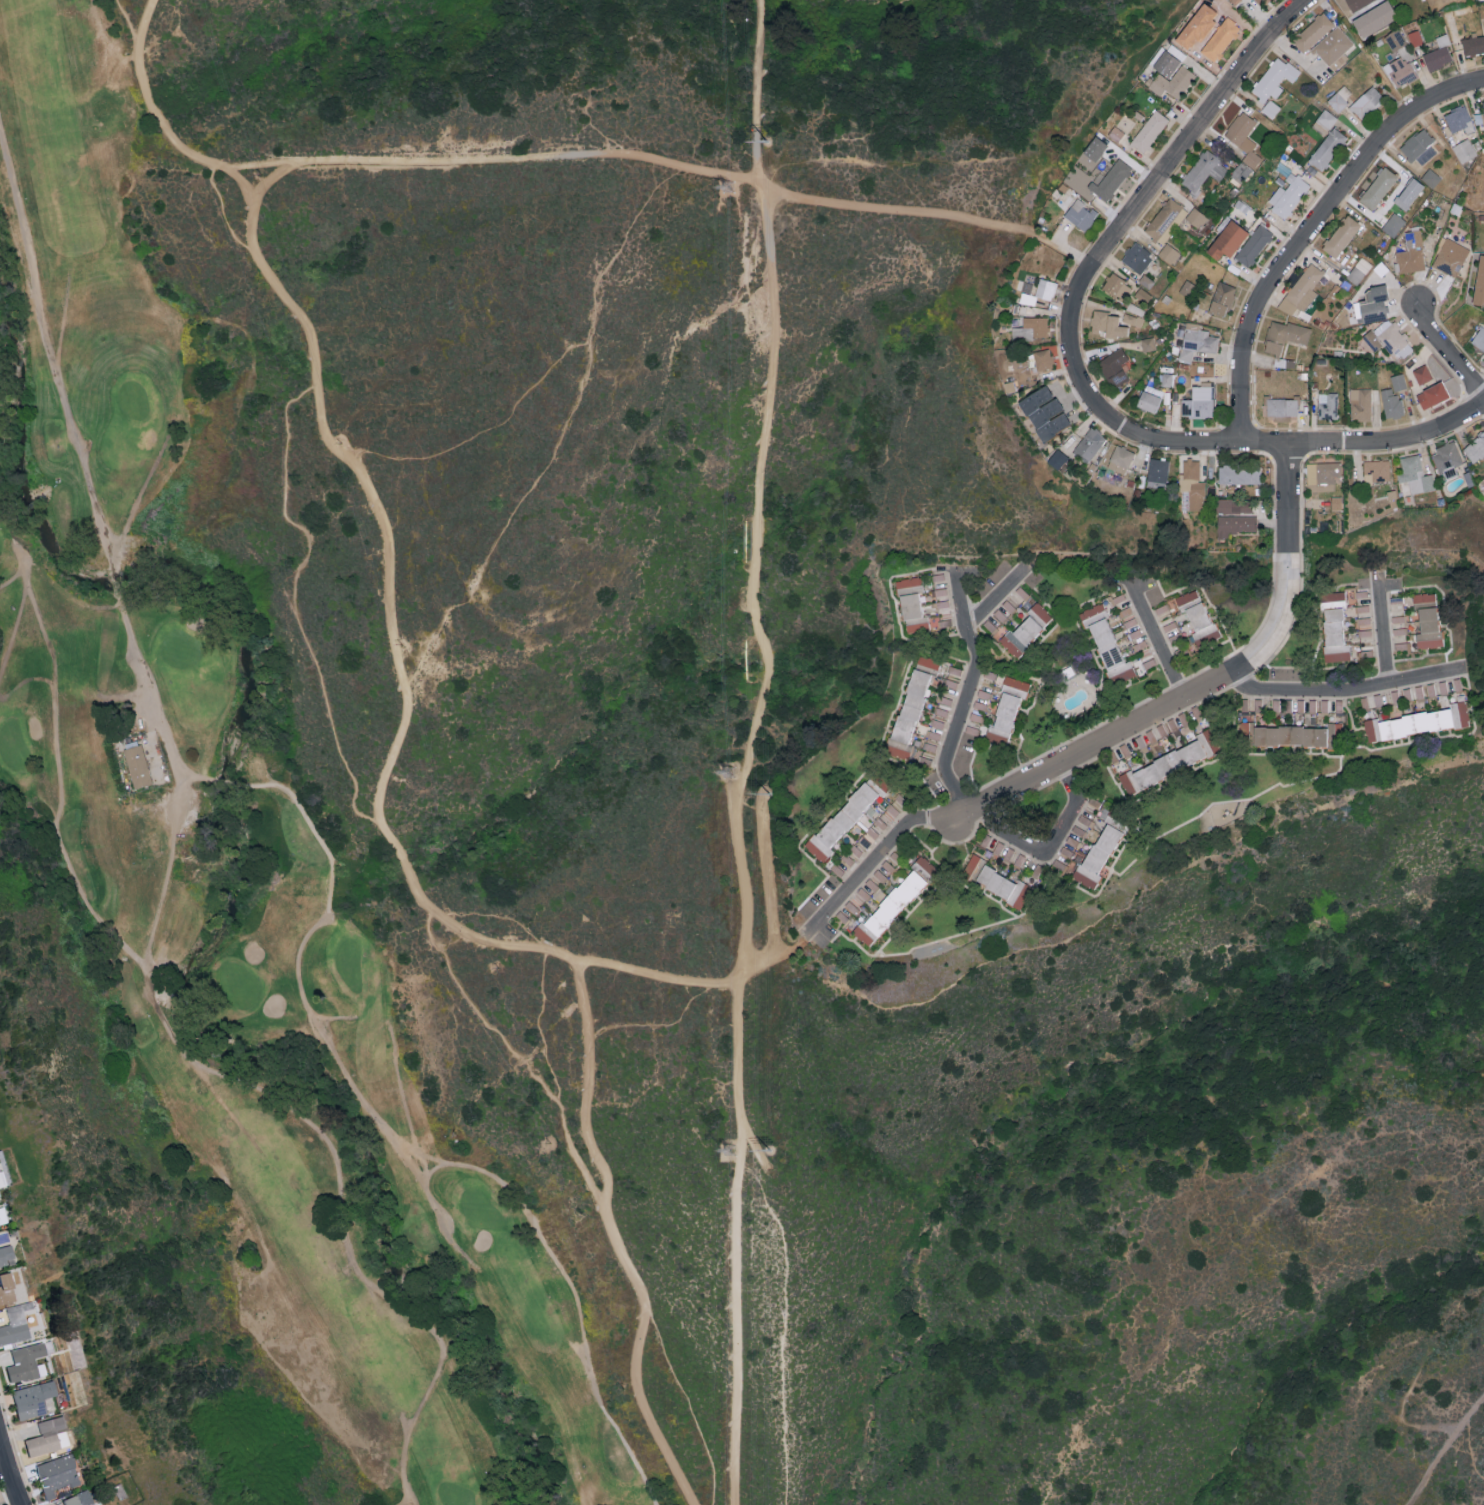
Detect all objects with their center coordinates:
building: (1230, 0)
building: (1264, 1)
building: (1357, 3)
building: (1374, 18)
road: (144, 23)
road: (122, 24)
building: (1197, 24)
building: (1312, 31)
building: (1415, 36)
building: (1220, 38)
building: (1395, 39)
building: (1443, 39)
building: (1473, 44)
building: (1332, 45)
building: (1176, 51)
building: (1437, 57)
road: (1368, 58)
building: (1166, 63)
building: (1400, 70)
building: (1273, 78)
building: (1171, 81)
building: (1340, 97)
building: (1366, 102)
building: (1270, 108)
building: (1480, 115)
building: (1458, 118)
building: (1324, 121)
building: (1149, 130)
building: (1243, 136)
road: (173, 137)
power tower: (767, 144)
building: (1418, 145)
building: (1327, 148)
building: (1464, 150)
road: (646, 157)
building: (1203, 170)
building: (1241, 171)
building: (1430, 177)
building: (1109, 179)
building: (1377, 187)
power tower: (731, 189)
building: (1408, 193)
building: (1287, 195)
building: (1080, 214)
building: (1196, 217)
building: (1162, 218)
building: (1393, 224)
road: (1313, 233)
building: (1340, 235)
building: (1227, 239)
building: (1253, 244)
road: (1106, 250)
park: (297, 251)
building: (1410, 252)
building: (1169, 253)
road: (1075, 255)
building: (1450, 256)
building: (1136, 257)
building: (1358, 270)
building: (1145, 280)
building: (1479, 282)
building: (1117, 285)
building: (1186, 287)
building: (1301, 289)
building: (1039, 291)
building: (1142, 294)
building: (1221, 298)
building: (1372, 304)
building: (1132, 319)
building: (1471, 319)
building: (1108, 323)
building: (1031, 328)
building: (1388, 337)
building: (1479, 337)
building: (1196, 340)
building: (1274, 341)
building: (1147, 343)
road: (1447, 349)
building: (1042, 358)
building: (1112, 361)
building: (1422, 374)
building: (1118, 377)
building: (1167, 379)
building: (1398, 381)
building: (1432, 394)
building: (1149, 398)
park: (134, 399)
building: (1198, 401)
building: (1360, 403)
building: (1391, 403)
building: (1327, 404)
building: (1281, 405)
building: (1044, 412)
road: (1366, 442)
building: (1089, 443)
building: (1475, 447)
building: (1058, 458)
building: (1447, 458)
building: (1120, 459)
building: (1157, 469)
building: (1376, 470)
building: (1238, 473)
building: (1323, 473)
building: (1415, 474)
building: (1192, 483)
building: (1233, 505)
building: (1236, 523)
park: (0, 544)
road: (1388, 586)
building: (1337, 597)
road: (389, 598)
road: (752, 598)
road: (998, 598)
building: (1423, 599)
road: (294, 601)
building: (911, 605)
building: (1362, 608)
building: (1162, 609)
building: (1000, 615)
building: (1197, 619)
building: (1362, 621)
building: (989, 626)
road: (1384, 627)
building: (1428, 627)
building: (1026, 629)
building: (1364, 632)
road: (937, 637)
building: (1338, 637)
building: (1106, 642)
road: (1160, 644)
building: (1402, 648)
park: (182, 649)
road: (946, 659)
building: (928, 661)
building: (954, 670)
building: (951, 683)
road: (1215, 683)
building: (1443, 687)
building: (1458, 689)
road: (1347, 690)
road: (969, 694)
building: (984, 694)
building: (943, 700)
road: (893, 711)
building: (940, 711)
building: (1005, 711)
building: (908, 713)
building: (976, 717)
road: (160, 719)
road: (1350, 719)
building: (1418, 722)
building: (1243, 732)
building: (1289, 735)
building: (1331, 736)
park: (14, 746)
building: (1169, 762)
building: (137, 766)
road: (1198, 769)
power tower: (730, 772)
power tower: (770, 794)
park: (635, 803)
building: (841, 821)
road: (1137, 825)
road: (1169, 831)
road: (942, 839)
building: (997, 848)
road: (1053, 848)
road: (887, 850)
building: (1066, 852)
building: (1097, 855)
building: (1019, 860)
park: (249, 861)
building: (972, 866)
building: (923, 867)
road: (168, 874)
building: (1002, 885)
road: (930, 894)
road: (981, 896)
building: (851, 907)
building: (888, 908)
road: (812, 928)
road: (826, 931)
road: (778, 954)
park: (350, 963)
road: (655, 977)
park: (241, 987)
road: (517, 1055)
road: (197, 1058)
power tower: (735, 1152)
power tower: (772, 1152)
park: (480, 1209)
building: (0, 1221)
road: (615, 1238)
road: (553, 1251)
building: (5, 1256)
building: (4, 1290)
building: (12, 1326)
road: (738, 1350)
building: (23, 1363)
building: (29, 1400)
building: (45, 1437)
road: (1442, 1448)
road: (10, 1471)
building: (53, 1476)
park: (455, 1494)
building: (77, 1499)

